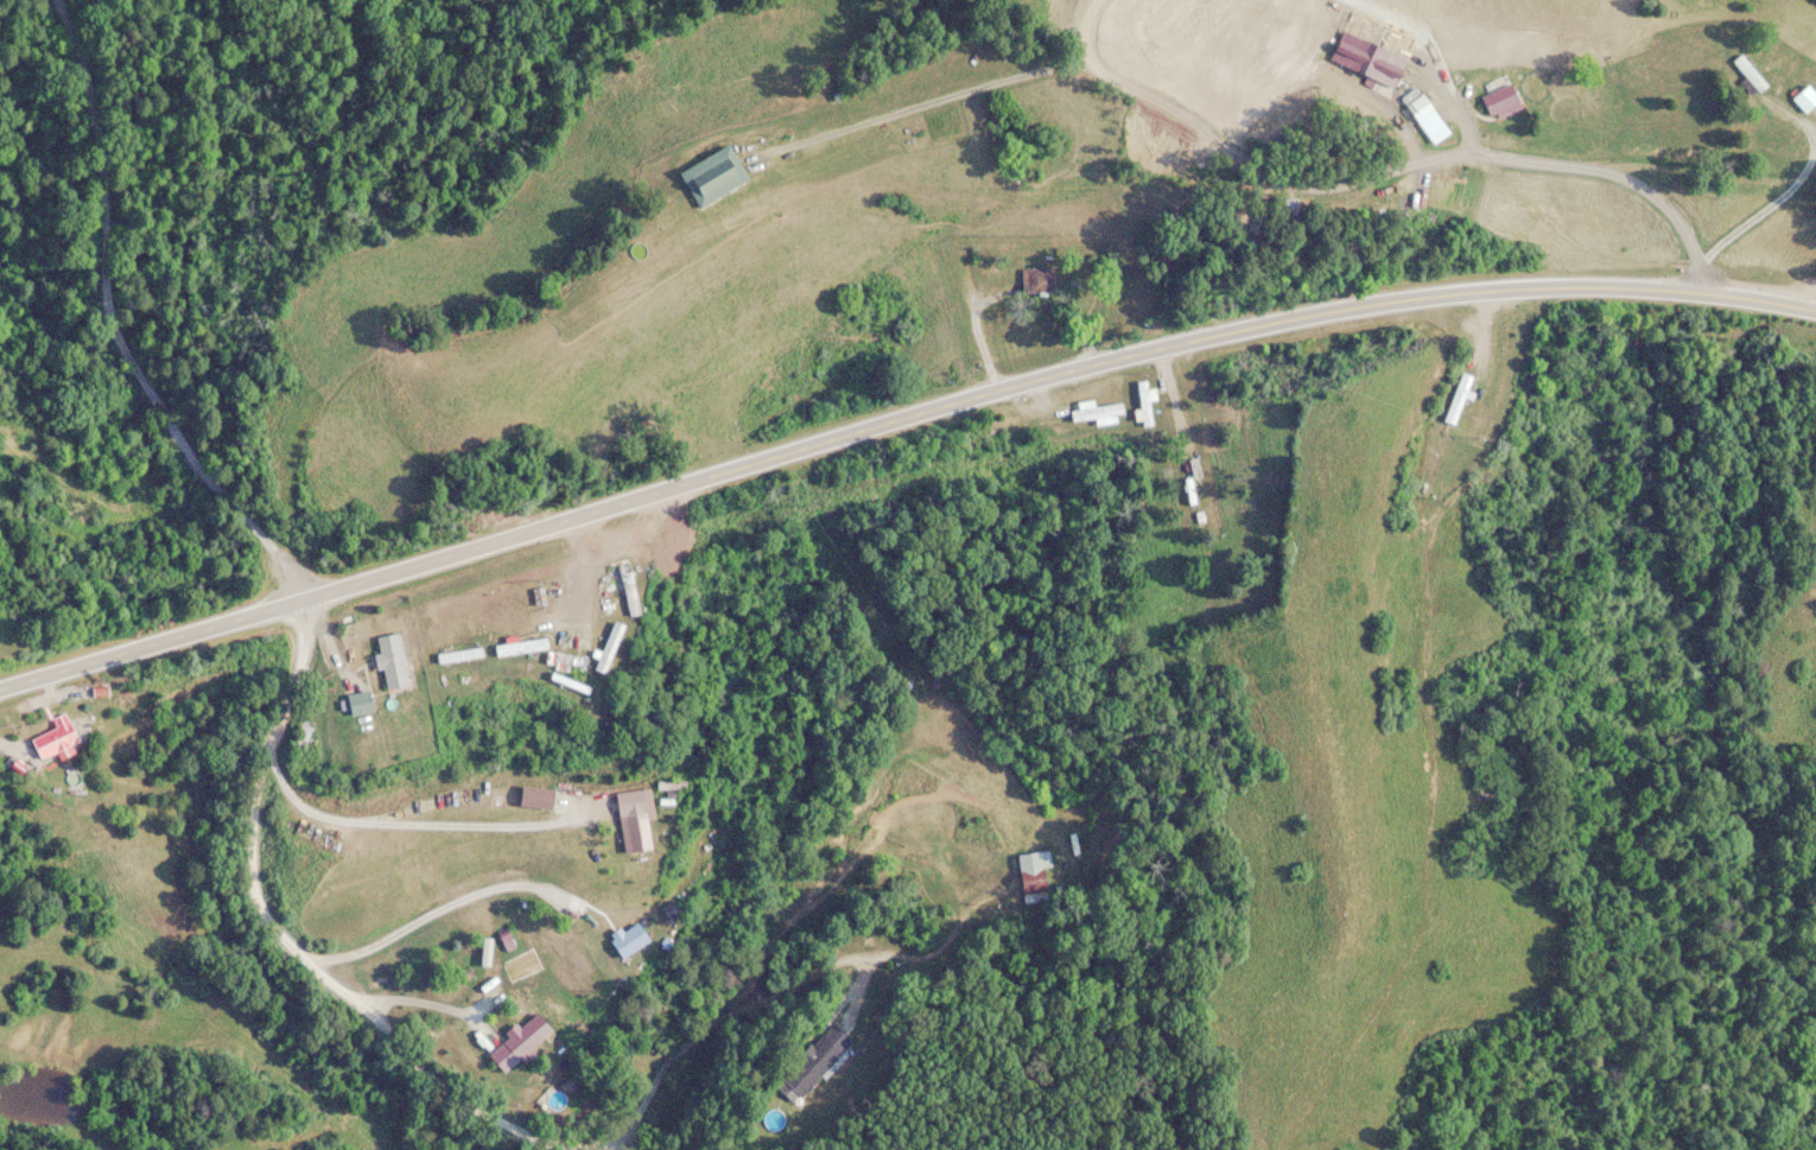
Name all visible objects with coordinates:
building: (1753, 81)
building: (1505, 101)
building: (1807, 101)
building: (1429, 116)
road: (1384, 166)
building: (717, 177)
road: (1771, 198)
building: (1041, 281)
road: (1814, 303)
road: (108, 309)
building: (1460, 400)
road: (897, 405)
building: (1145, 405)
building: (1098, 414)
building: (1190, 476)
building: (500, 621)
building: (611, 648)
building: (395, 662)
building: (363, 704)
building: (57, 738)
building: (636, 822)
building: (1034, 877)
road: (253, 934)
building: (633, 940)
building: (518, 1047)

